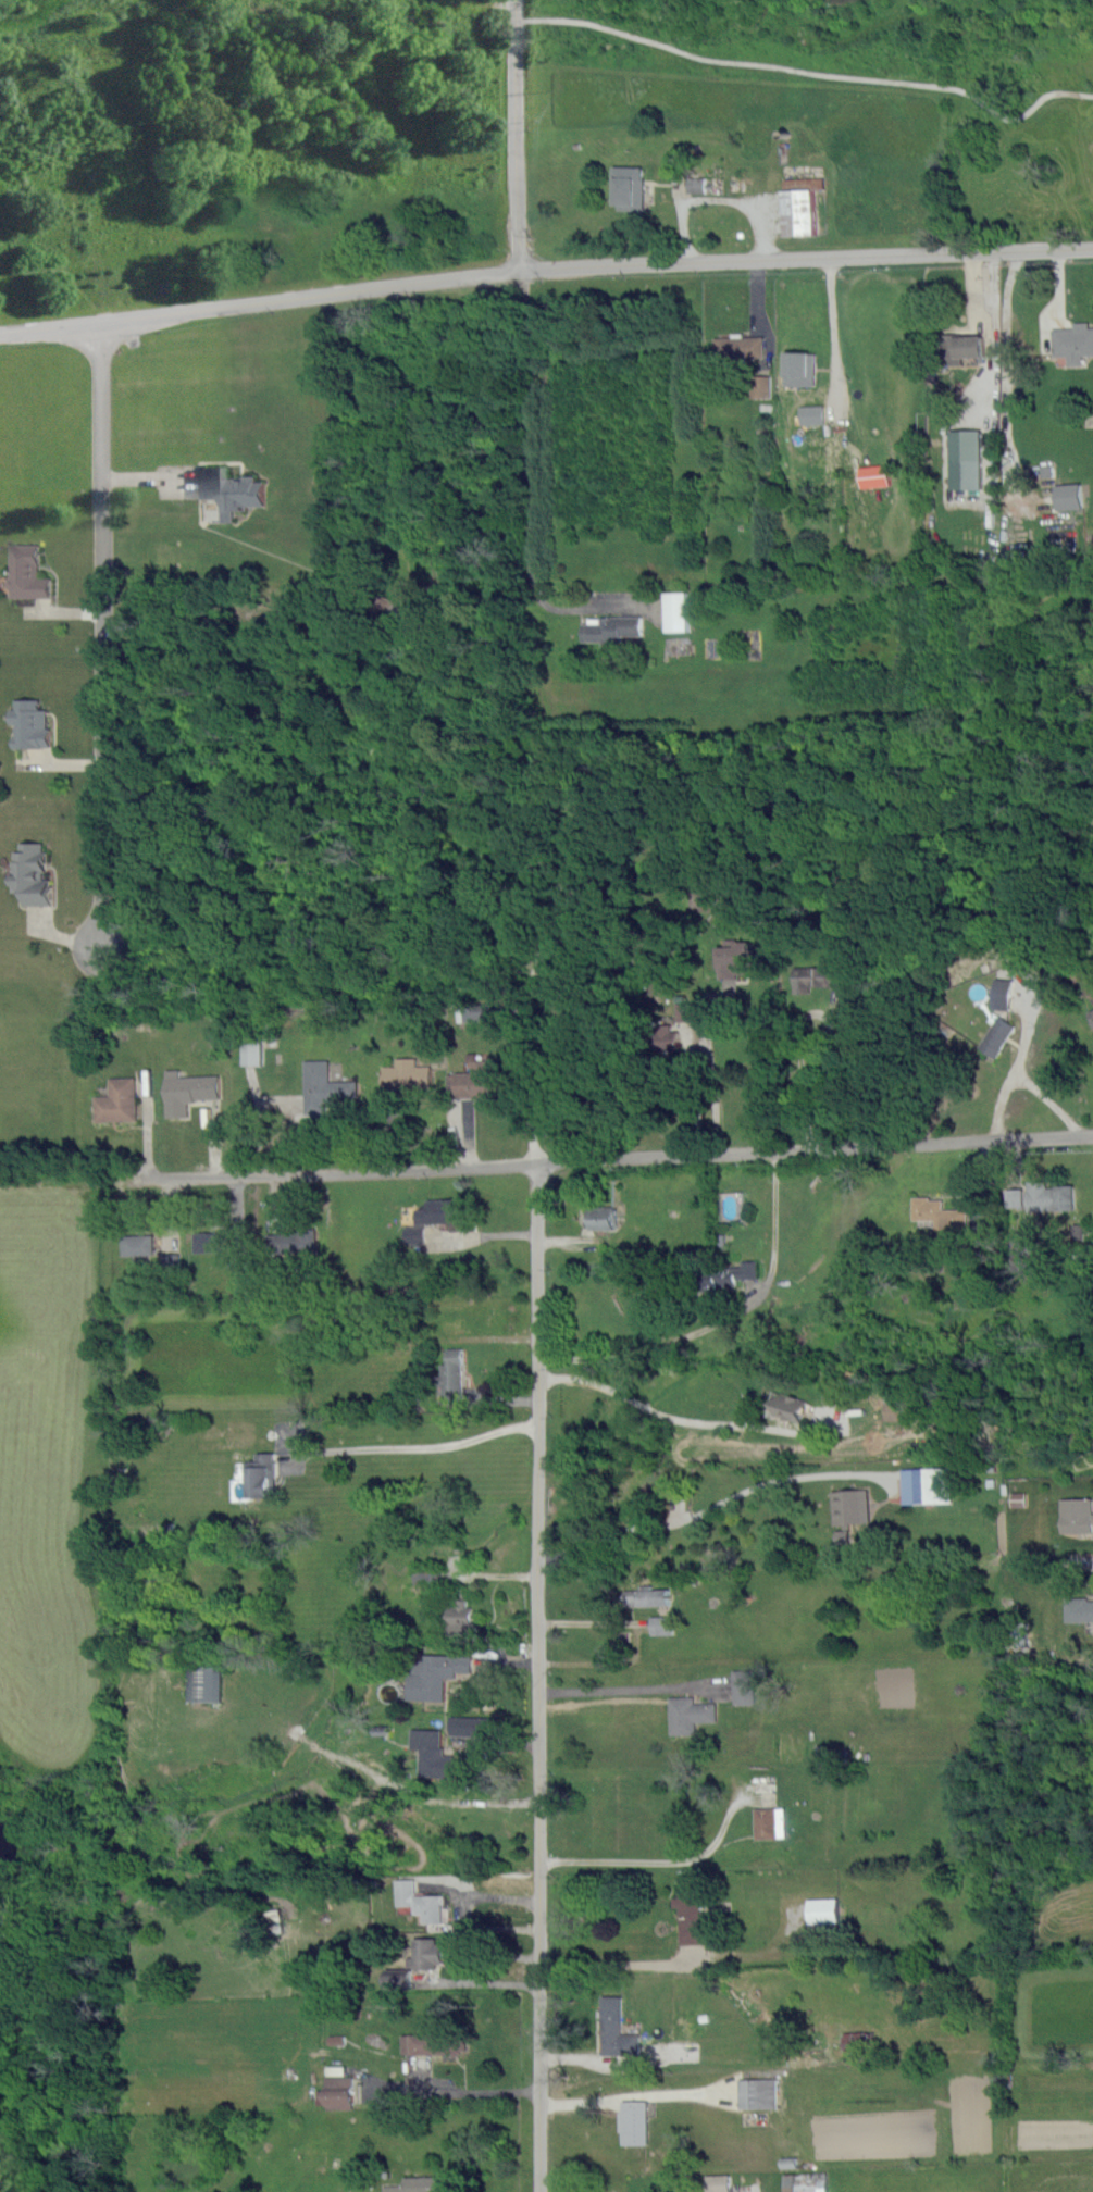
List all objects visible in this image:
road: (1043, 64)
road: (974, 66)
road: (517, 135)
building: (631, 187)
building: (698, 187)
road: (719, 198)
building: (800, 205)
road: (544, 267)
road: (831, 327)
building: (1073, 342)
building: (737, 347)
building: (959, 347)
building: (798, 369)
building: (761, 386)
building: (812, 414)
building: (966, 459)
building: (875, 476)
building: (231, 491)
building: (1069, 497)
building: (27, 571)
building: (678, 611)
building: (611, 632)
road: (102, 633)
building: (30, 722)
building: (32, 871)
building: (586, 885)
building: (737, 959)
building: (819, 975)
road: (532, 982)
building: (1003, 994)
building: (479, 1011)
building: (1092, 1012)
road: (799, 1036)
building: (996, 1036)
building: (665, 1038)
building: (589, 1041)
building: (252, 1054)
road: (709, 1068)
building: (405, 1076)
road: (603, 1076)
building: (475, 1082)
building: (323, 1087)
building: (188, 1092)
road: (697, 1095)
building: (117, 1101)
road: (530, 1119)
road: (546, 1160)
building: (1051, 1196)
building: (1016, 1198)
building: (444, 1211)
building: (939, 1213)
building: (600, 1217)
building: (414, 1235)
building: (210, 1242)
building: (293, 1242)
building: (138, 1245)
building: (170, 1261)
building: (728, 1274)
road: (722, 1320)
building: (451, 1375)
building: (788, 1407)
building: (895, 1411)
road: (666, 1415)
road: (415, 1445)
building: (261, 1473)
building: (927, 1485)
building: (1018, 1499)
road: (712, 1506)
building: (850, 1506)
building: (1078, 1515)
building: (842, 1536)
building: (649, 1596)
building: (1079, 1610)
building: (461, 1615)
road: (593, 1622)
building: (662, 1626)
building: (436, 1673)
road: (538, 1676)
building: (203, 1683)
building: (743, 1687)
road: (626, 1690)
building: (688, 1715)
building: (473, 1726)
building: (434, 1755)
building: (769, 1821)
road: (656, 1858)
building: (420, 1901)
building: (822, 1910)
road: (462, 1914)
building: (691, 1914)
building: (276, 1920)
road: (485, 1946)
building: (426, 1953)
road: (617, 1961)
building: (399, 1979)
road: (483, 1982)
building: (617, 2029)
building: (855, 2041)
building: (433, 2042)
building: (337, 2070)
building: (336, 2093)
building: (758, 2093)
building: (634, 2122)
building: (806, 2182)
building: (718, 2183)
building: (436, 2184)
building: (393, 2189)

